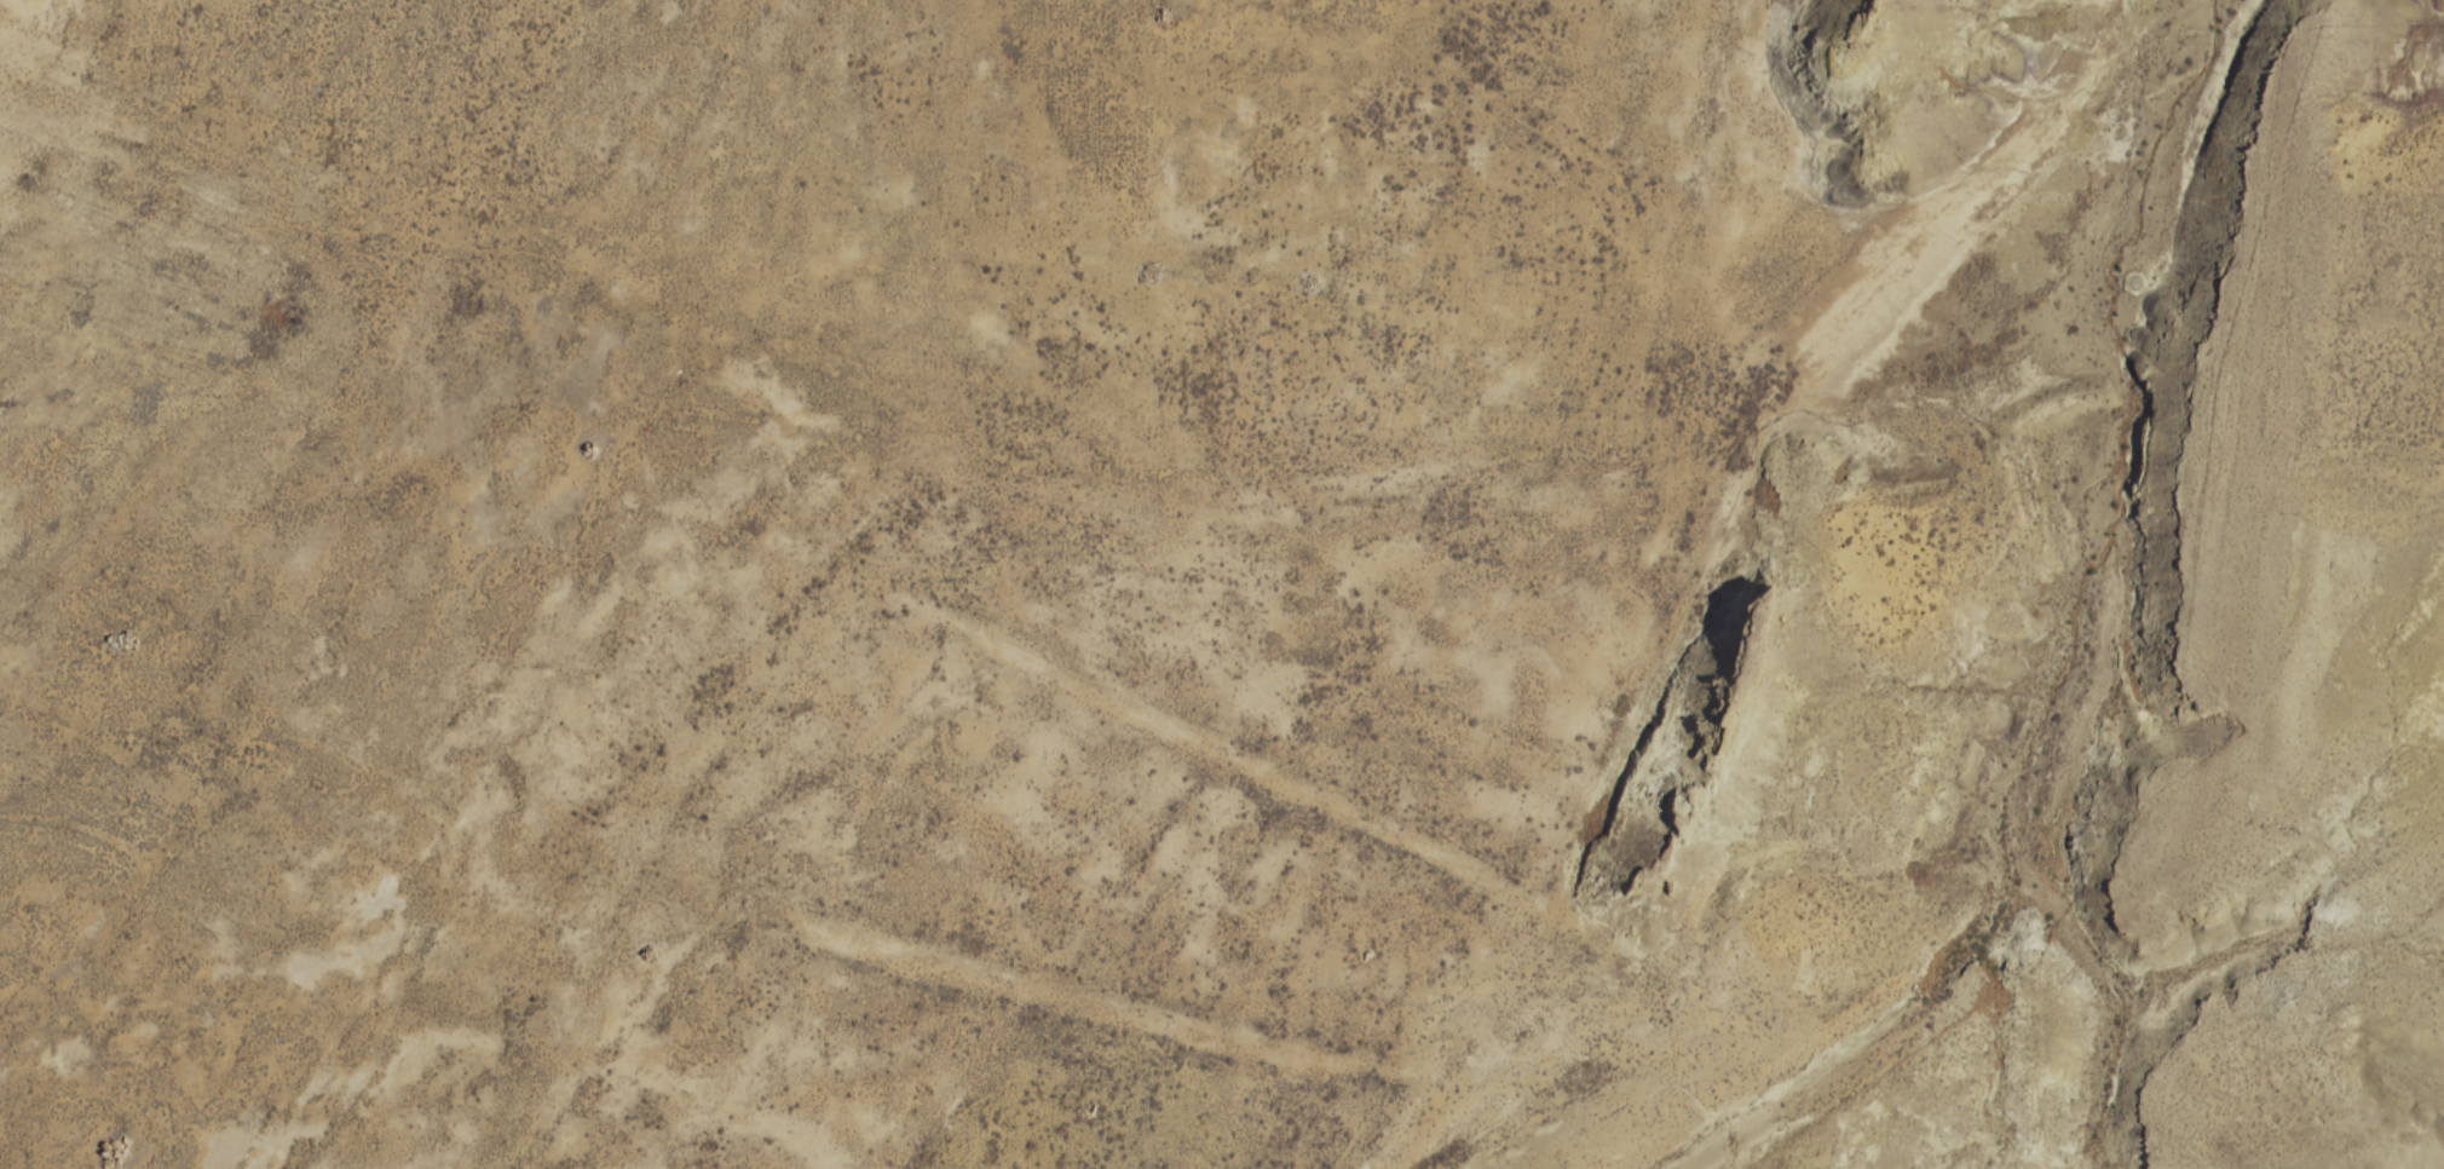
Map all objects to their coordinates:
quarry: (220, 1061)

